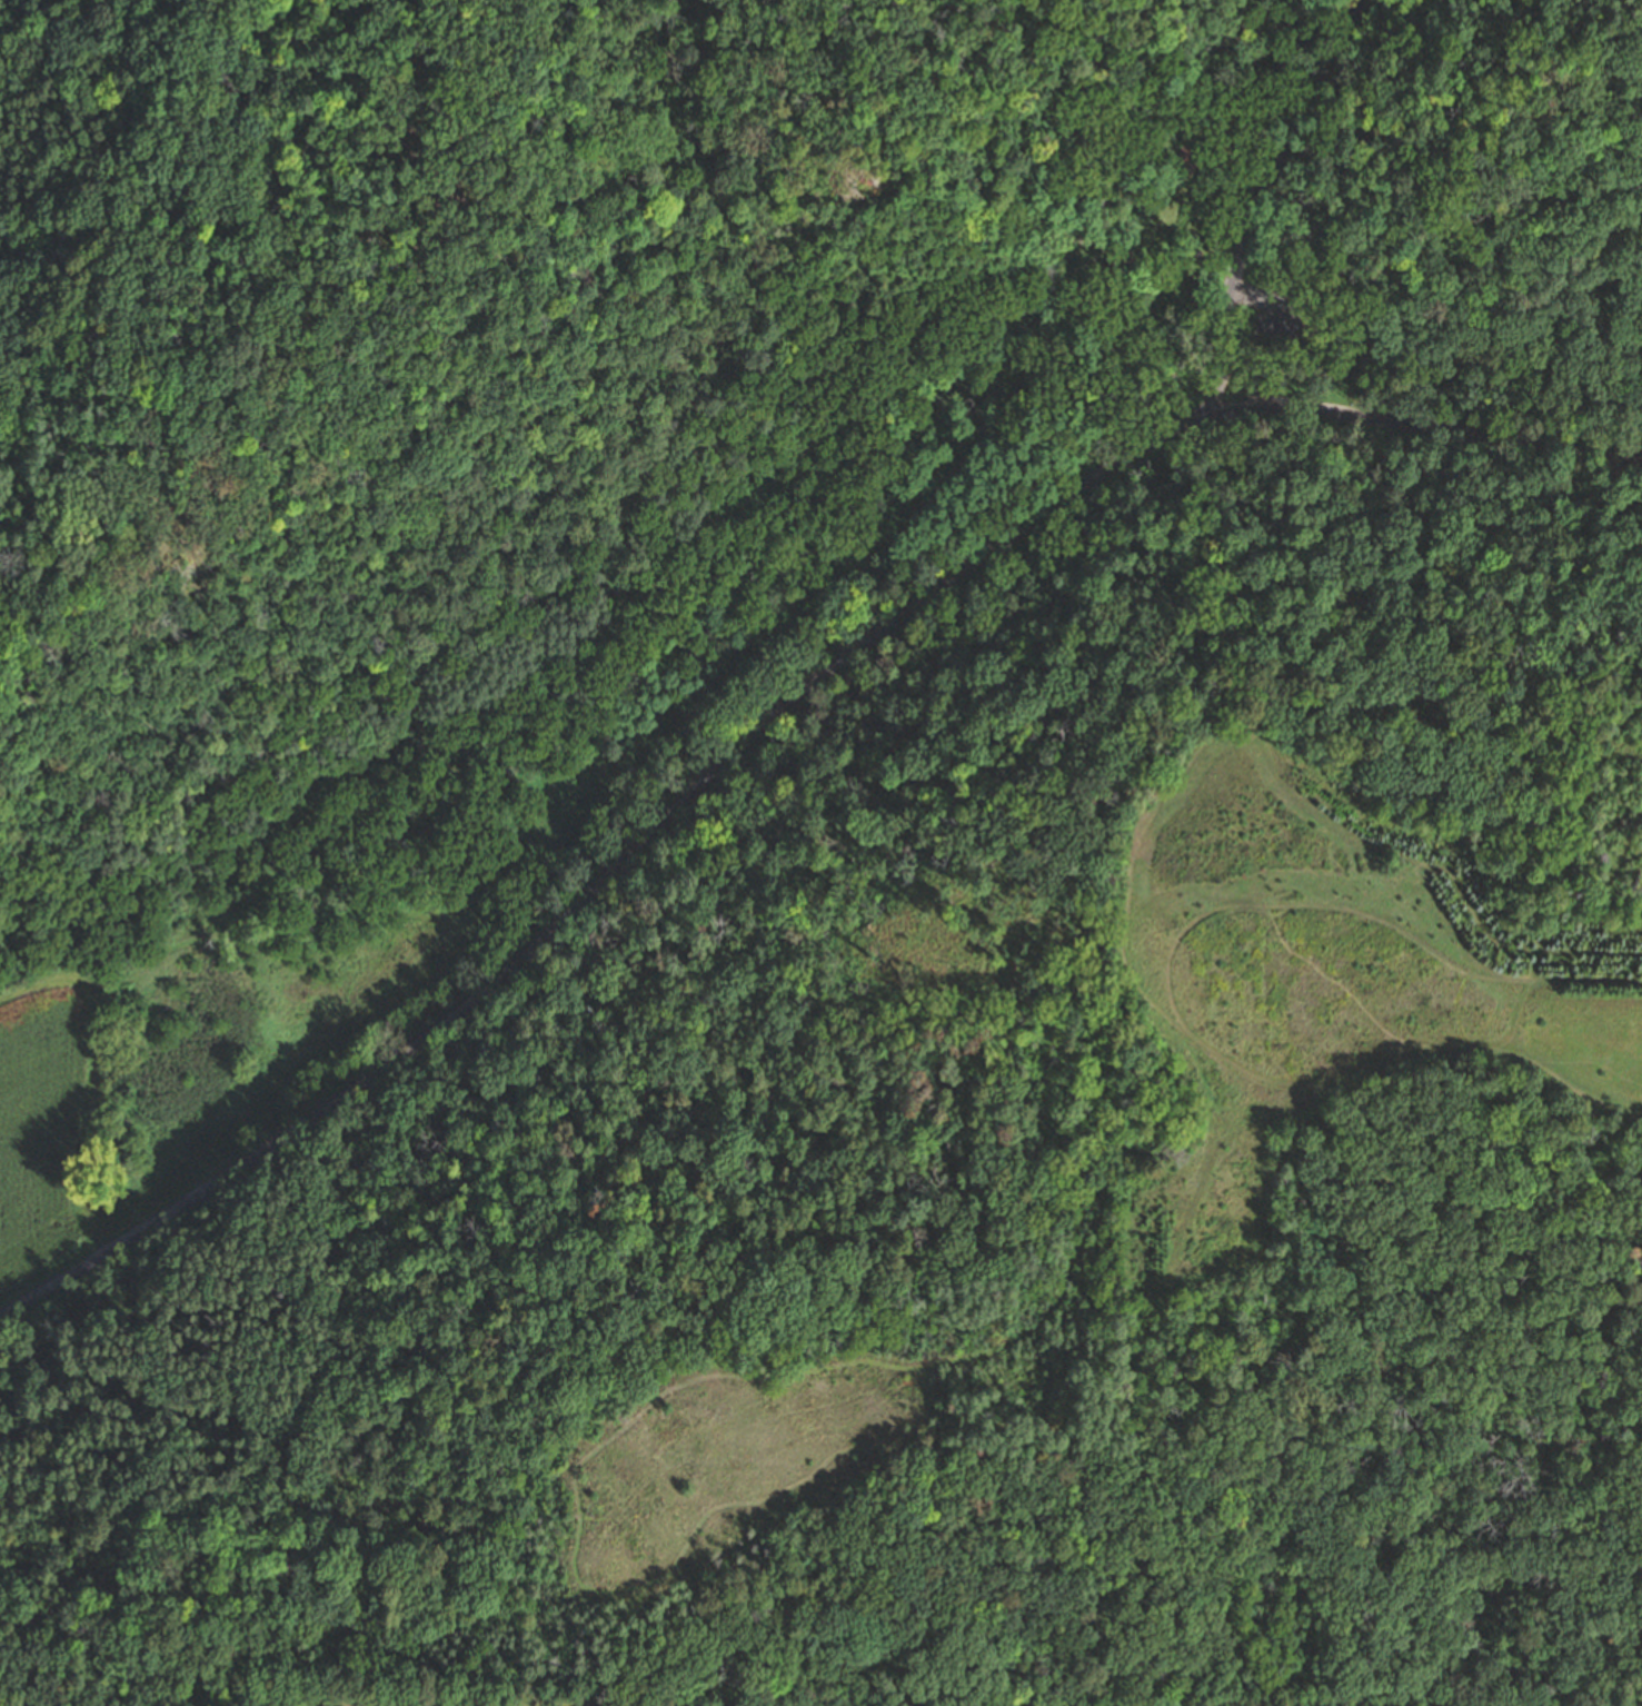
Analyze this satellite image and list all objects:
road: (905, 75)
building: (862, 142)
building: (1184, 161)
road: (1255, 212)
road: (1213, 252)
building: (1121, 264)
road: (716, 276)
road: (939, 286)
road: (1261, 298)
parking lot: (1275, 315)
road: (1260, 388)
road: (1439, 430)
road: (185, 500)
road: (757, 787)
road: (619, 864)
road: (539, 891)
building: (1091, 918)
road: (499, 931)
road: (157, 945)
road: (878, 1089)
road: (919, 1368)
road: (1018, 1432)
road: (570, 1579)

